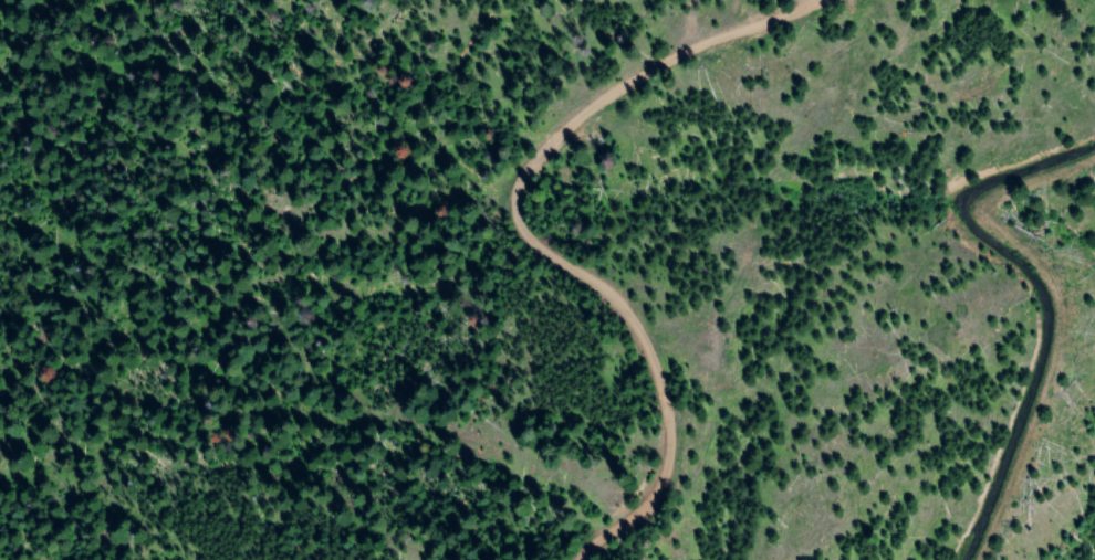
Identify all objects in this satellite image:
road: (639, 230)

